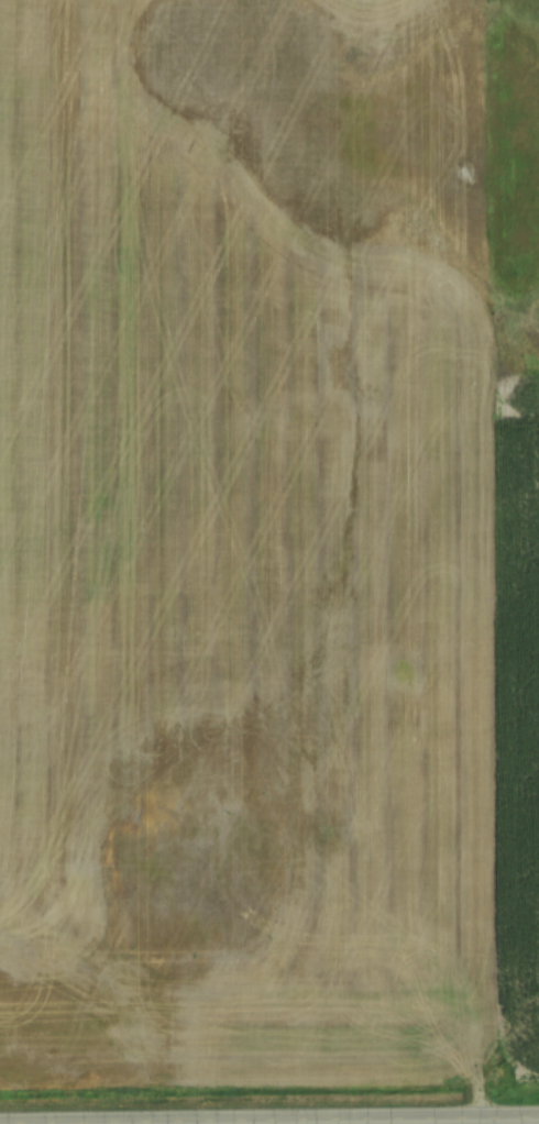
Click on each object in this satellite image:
road: (268, 1115)

